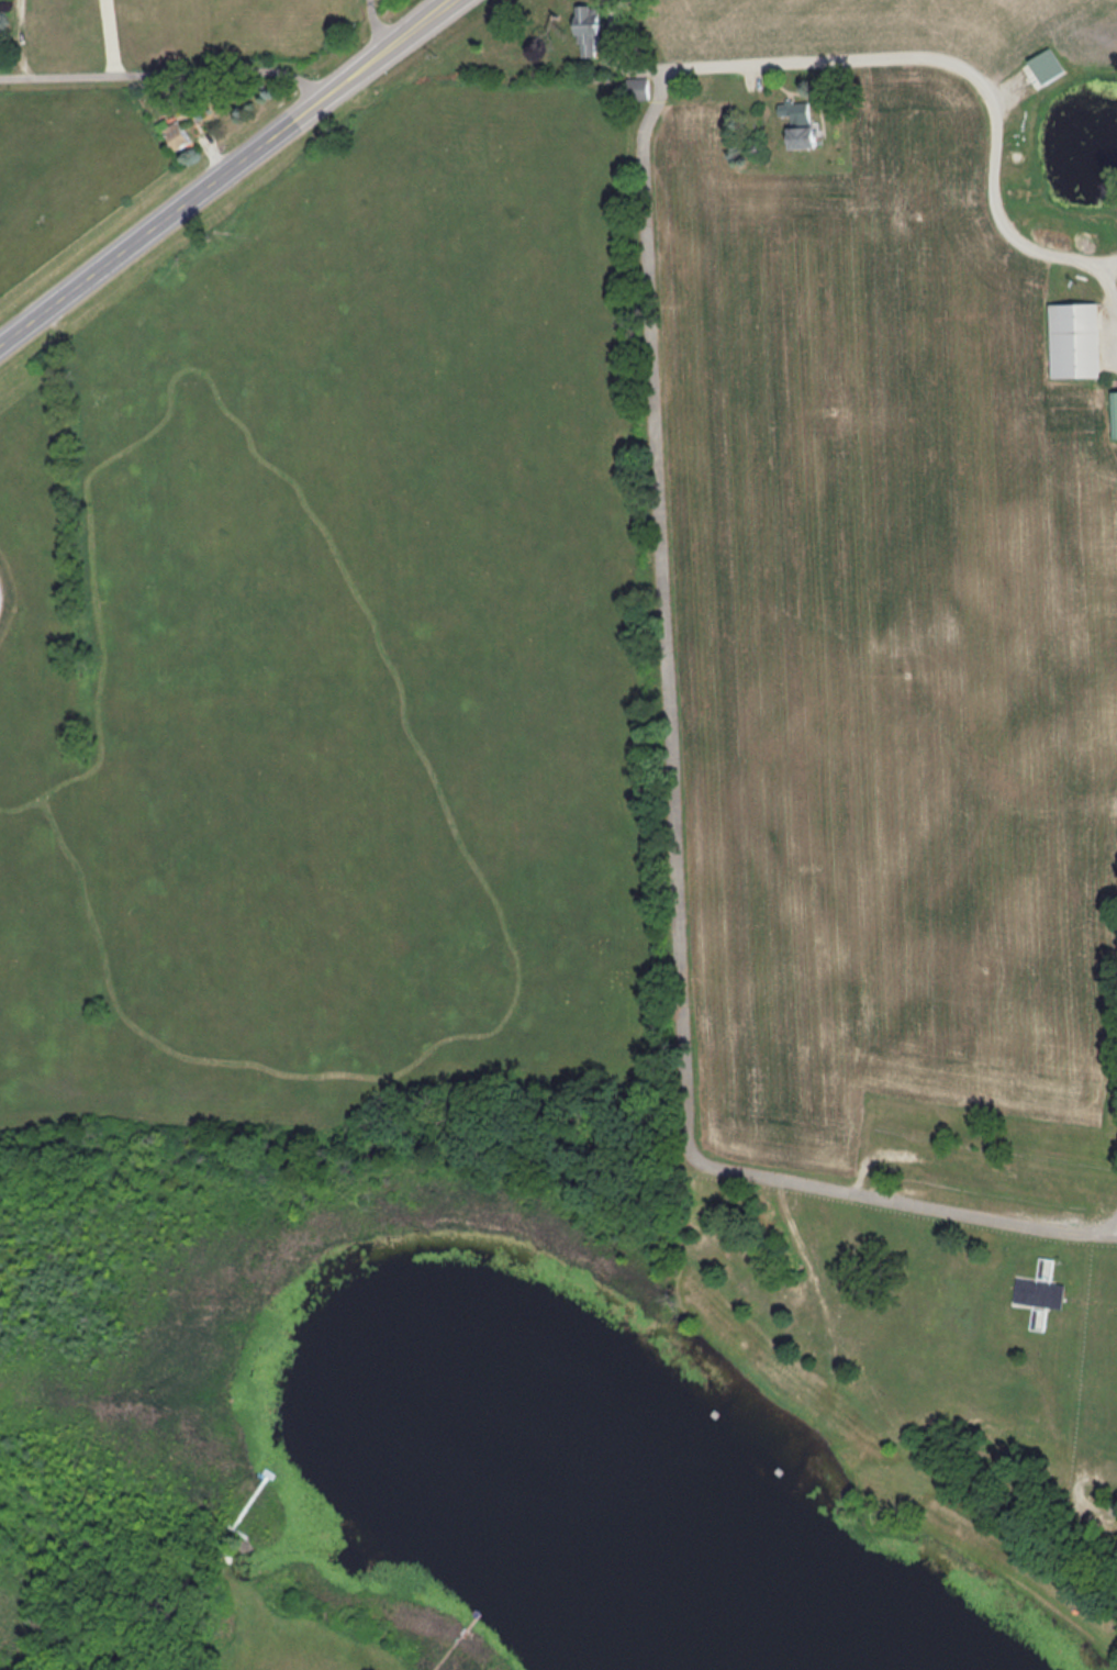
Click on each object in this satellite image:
road: (428, 21)
road: (376, 26)
building: (587, 32)
road: (108, 38)
road: (394, 47)
road: (963, 64)
building: (1045, 67)
road: (165, 75)
road: (355, 75)
building: (637, 89)
building: (797, 124)
building: (174, 136)
road: (161, 222)
building: (1074, 342)
building: (1114, 414)
crop: (889, 639)
park: (320, 712)
road: (674, 771)
road: (1107, 1226)
building: (1040, 1295)
road: (1110, 1512)
pier: (459, 1640)

